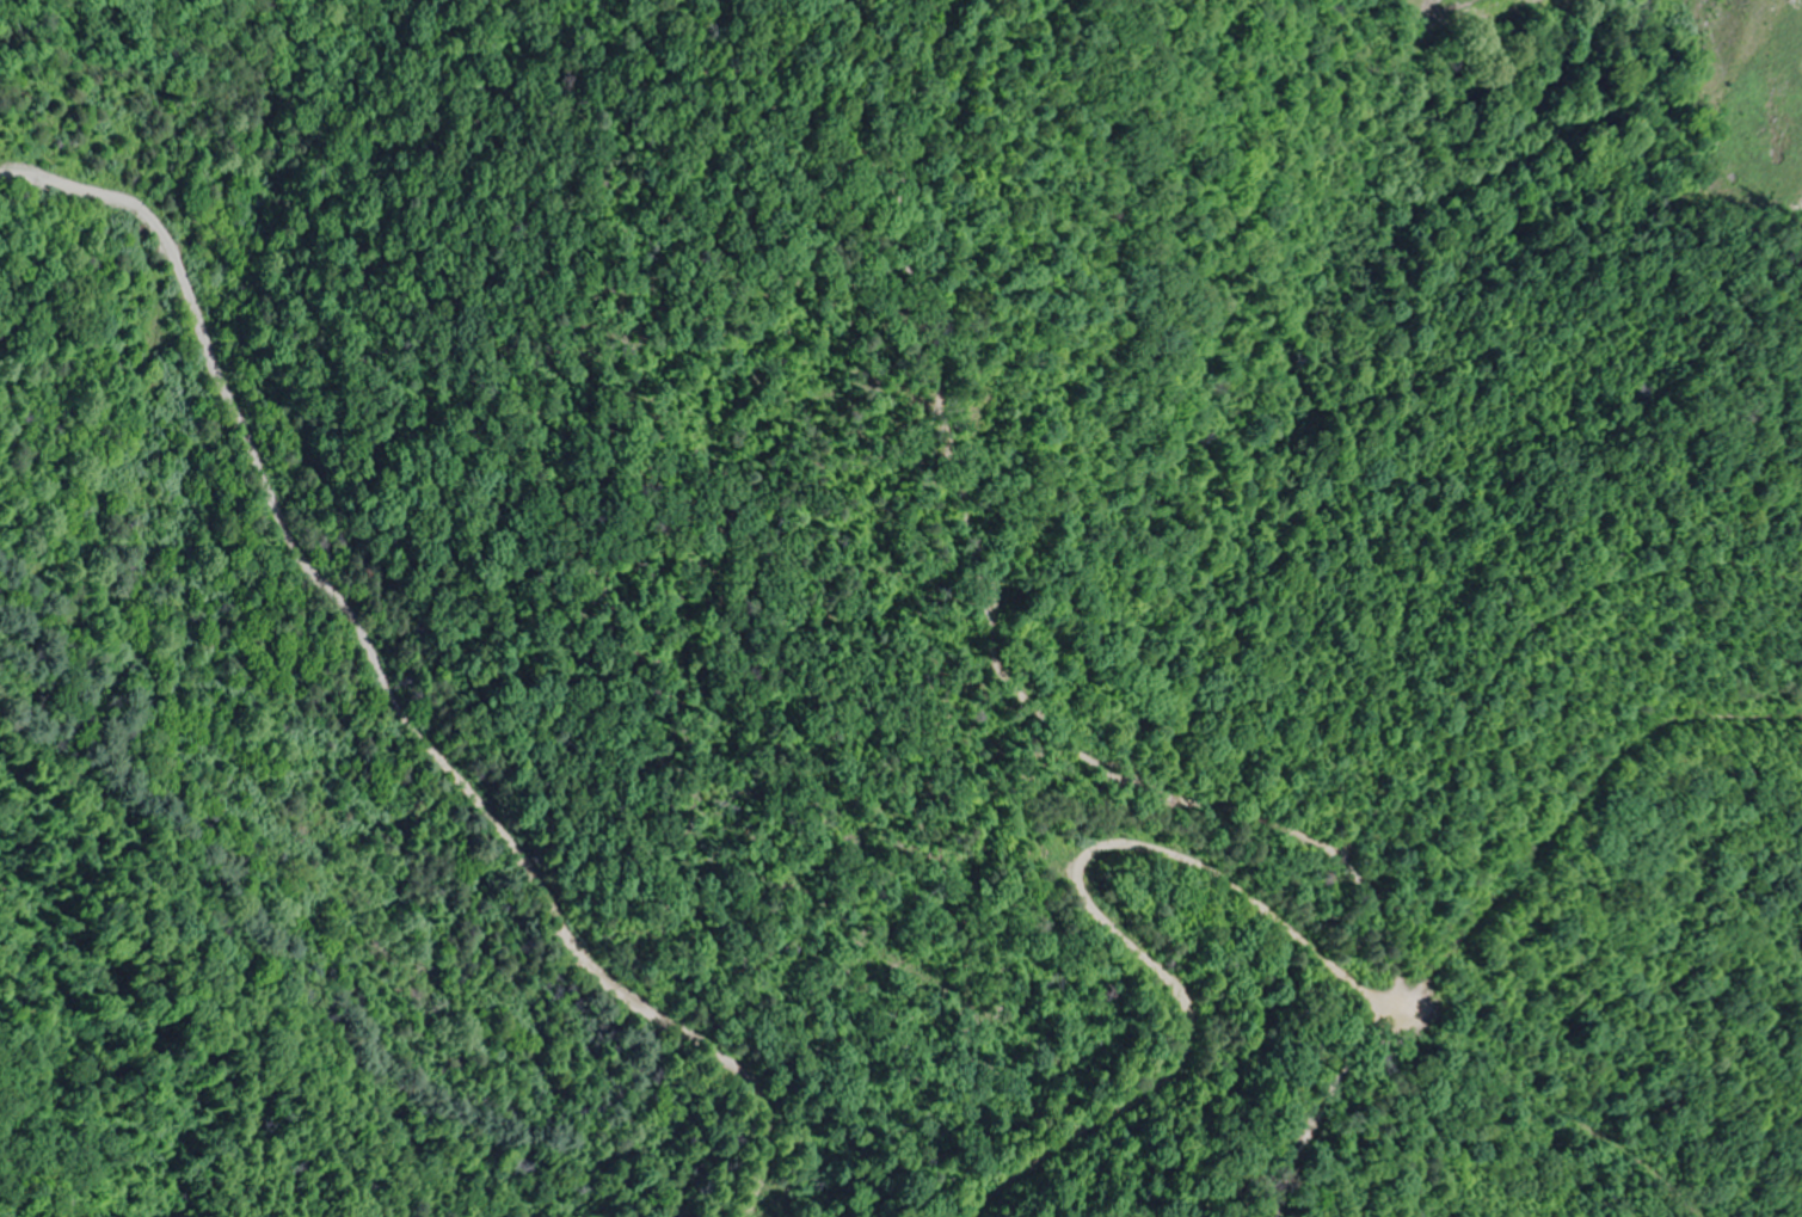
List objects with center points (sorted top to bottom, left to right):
road: (1412, 1029)

